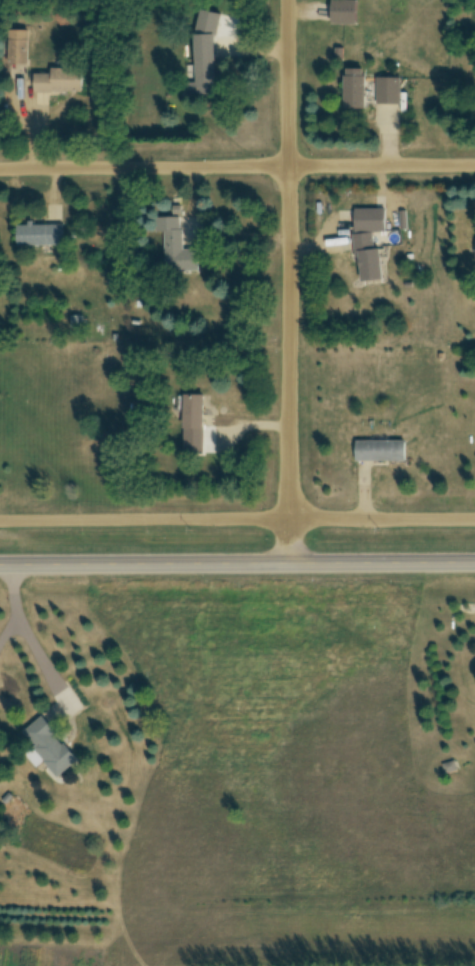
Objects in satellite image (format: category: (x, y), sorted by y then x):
building: (344, 12)
building: (18, 48)
building: (204, 67)
building: (60, 81)
building: (356, 88)
building: (389, 91)
road: (237, 166)
building: (41, 235)
building: (176, 246)
building: (369, 257)
road: (291, 259)
building: (194, 412)
building: (381, 451)
road: (237, 519)
road: (237, 565)
road: (29, 641)
building: (51, 747)

